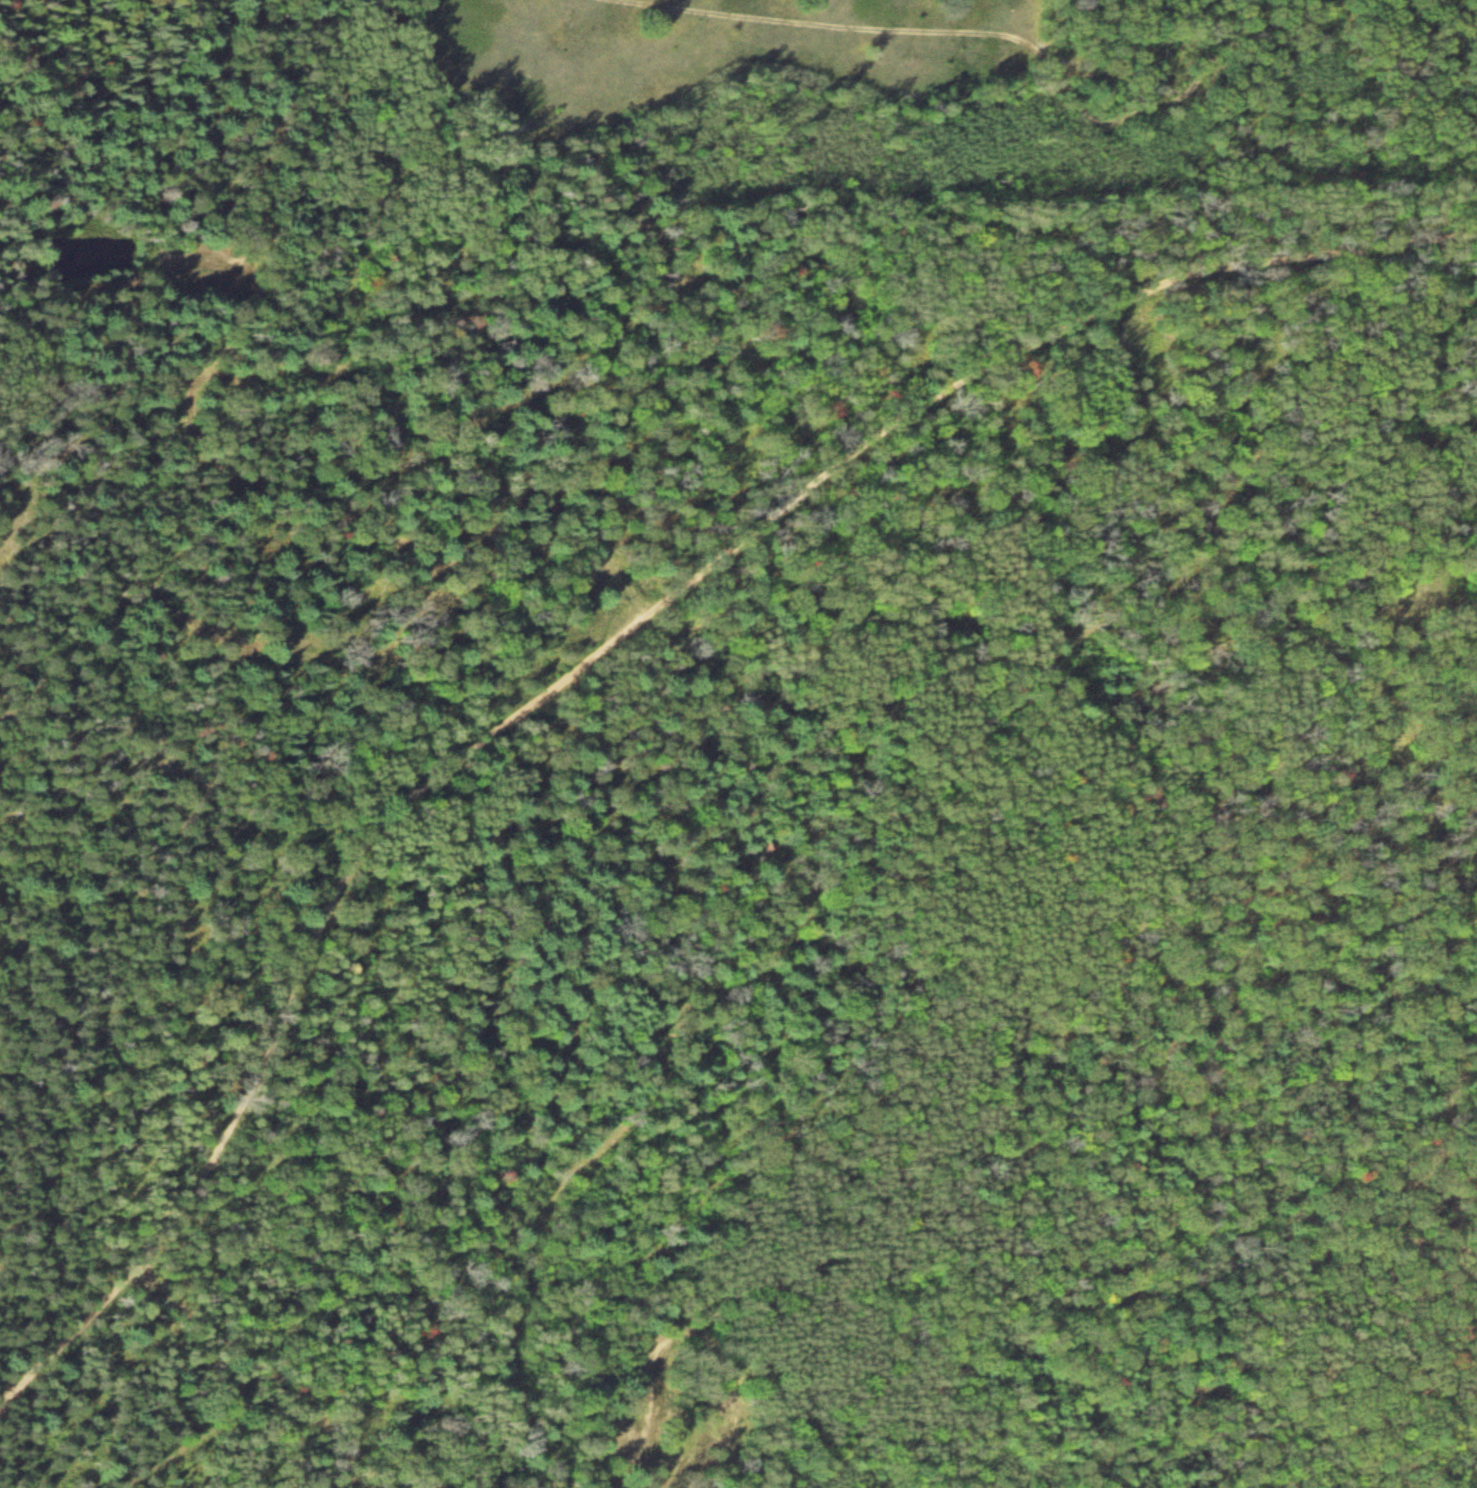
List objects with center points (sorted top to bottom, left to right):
road: (605, 643)
road: (255, 1370)
road: (197, 1433)

